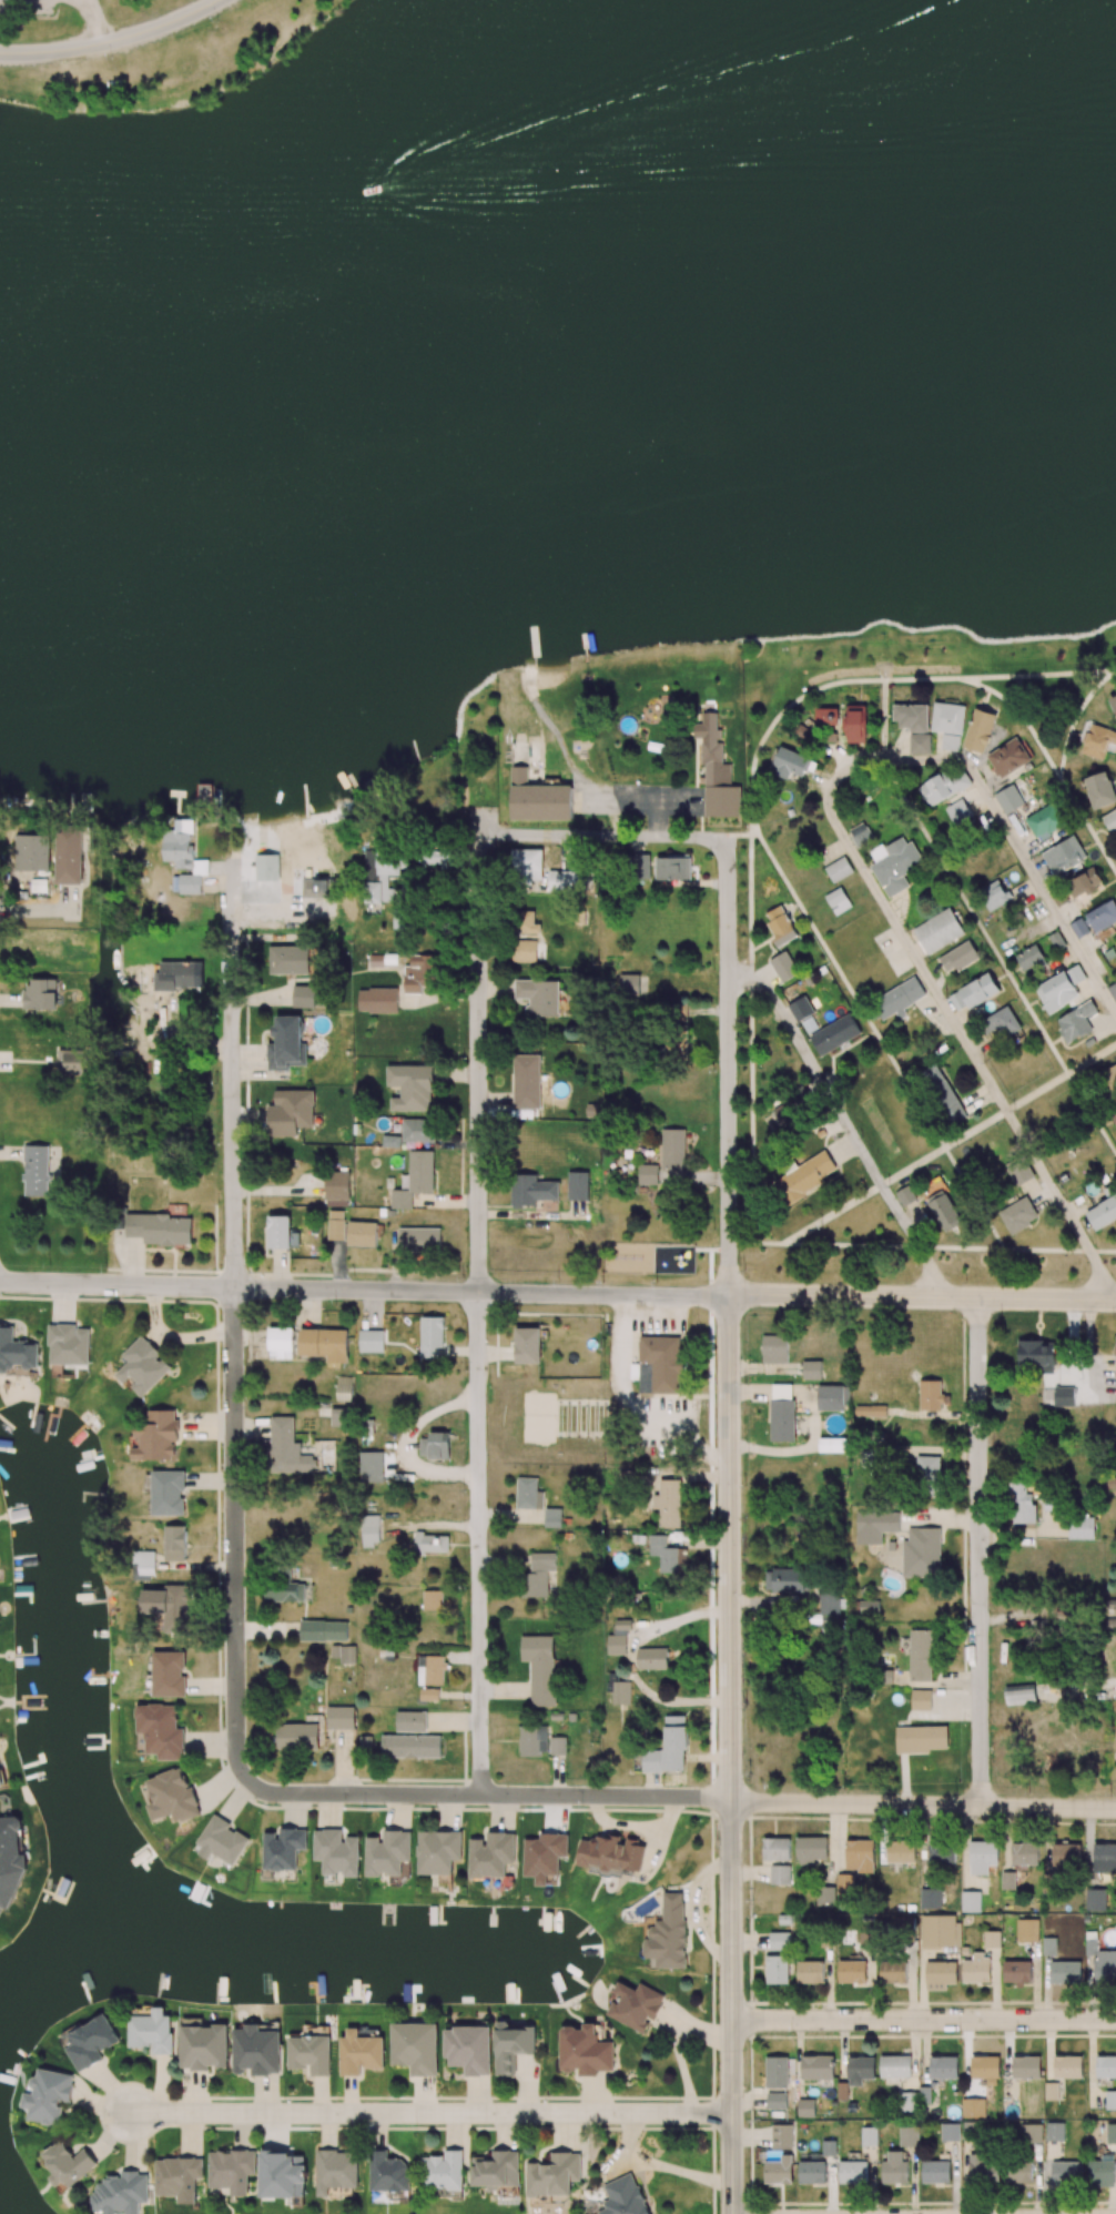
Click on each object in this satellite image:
parking lot: (26, 6)
road: (113, 41)
park: (549, 155)
building: (1113, 705)
building: (826, 716)
building: (912, 718)
building: (947, 718)
building: (856, 724)
building: (806, 727)
building: (978, 730)
building: (950, 741)
building: (1097, 741)
building: (920, 744)
building: (1007, 757)
road: (881, 760)
building: (790, 764)
building: (717, 772)
building: (942, 787)
building: (1100, 789)
building: (536, 793)
building: (1010, 799)
building: (958, 812)
building: (1110, 820)
building: (1045, 821)
road: (479, 829)
building: (860, 835)
road: (602, 836)
building: (32, 852)
building: (436, 856)
building: (1064, 856)
building: (183, 857)
building: (70, 860)
building: (526, 863)
building: (894, 865)
building: (266, 867)
building: (673, 868)
building: (839, 869)
building: (383, 872)
building: (562, 880)
building: (1084, 882)
road: (1039, 883)
building: (994, 894)
building: (838, 901)
building: (1102, 917)
building: (528, 921)
building: (780, 926)
building: (1079, 928)
building: (939, 931)
building: (524, 950)
building: (958, 957)
building: (1029, 958)
building: (288, 959)
building: (783, 967)
building: (418, 973)
building: (179, 975)
building: (629, 984)
building: (978, 990)
building: (1062, 990)
building: (1113, 990)
building: (41, 994)
building: (304, 995)
building: (539, 997)
building: (899, 999)
building: (377, 1000)
building: (801, 1009)
building: (678, 1013)
building: (1076, 1021)
building: (1002, 1022)
building: (834, 1034)
building: (287, 1044)
building: (676, 1047)
road: (972, 1051)
building: (72, 1061)
road: (727, 1065)
building: (1108, 1080)
building: (526, 1081)
building: (410, 1086)
building: (943, 1094)
road: (834, 1103)
building: (291, 1112)
building: (783, 1113)
building: (1113, 1114)
building: (417, 1130)
building: (392, 1141)
road: (948, 1144)
building: (672, 1150)
building: (35, 1169)
building: (1018, 1171)
building: (647, 1174)
building: (415, 1179)
building: (803, 1179)
building: (337, 1185)
building: (578, 1185)
building: (531, 1190)
building: (907, 1195)
building: (945, 1212)
building: (1103, 1214)
building: (1018, 1215)
building: (336, 1225)
building: (160, 1229)
building: (278, 1232)
building: (362, 1234)
building: (419, 1241)
road: (754, 1243)
road: (950, 1247)
road: (932, 1275)
road: (363, 1290)
road: (921, 1296)
road: (478, 1315)
road: (234, 1323)
building: (432, 1336)
building: (372, 1341)
building: (282, 1342)
building: (69, 1345)
building: (325, 1345)
building: (528, 1345)
building: (774, 1348)
building: (16, 1352)
building: (1115, 1356)
building: (659, 1365)
building: (142, 1367)
building: (812, 1369)
building: (1045, 1369)
building: (344, 1388)
building: (931, 1395)
building: (833, 1397)
building: (870, 1411)
building: (782, 1413)
building: (339, 1417)
building: (156, 1436)
building: (832, 1445)
building: (436, 1446)
building: (286, 1448)
building: (371, 1466)
building: (929, 1467)
building: (168, 1493)
building: (529, 1494)
building: (669, 1503)
building: (1022, 1504)
building: (552, 1517)
building: (875, 1526)
building: (1082, 1528)
building: (371, 1530)
building: (174, 1543)
building: (432, 1543)
building: (922, 1553)
road: (978, 1553)
building: (668, 1555)
building: (143, 1565)
building: (539, 1576)
building: (788, 1580)
building: (433, 1601)
building: (168, 1606)
building: (324, 1630)
building: (344, 1654)
building: (169, 1674)
building: (161, 1730)
road: (729, 1753)
building: (0, 1783)
road: (677, 1798)
road: (923, 2019)
road: (429, 2114)
building: (1112, 2133)
building: (1104, 2173)

